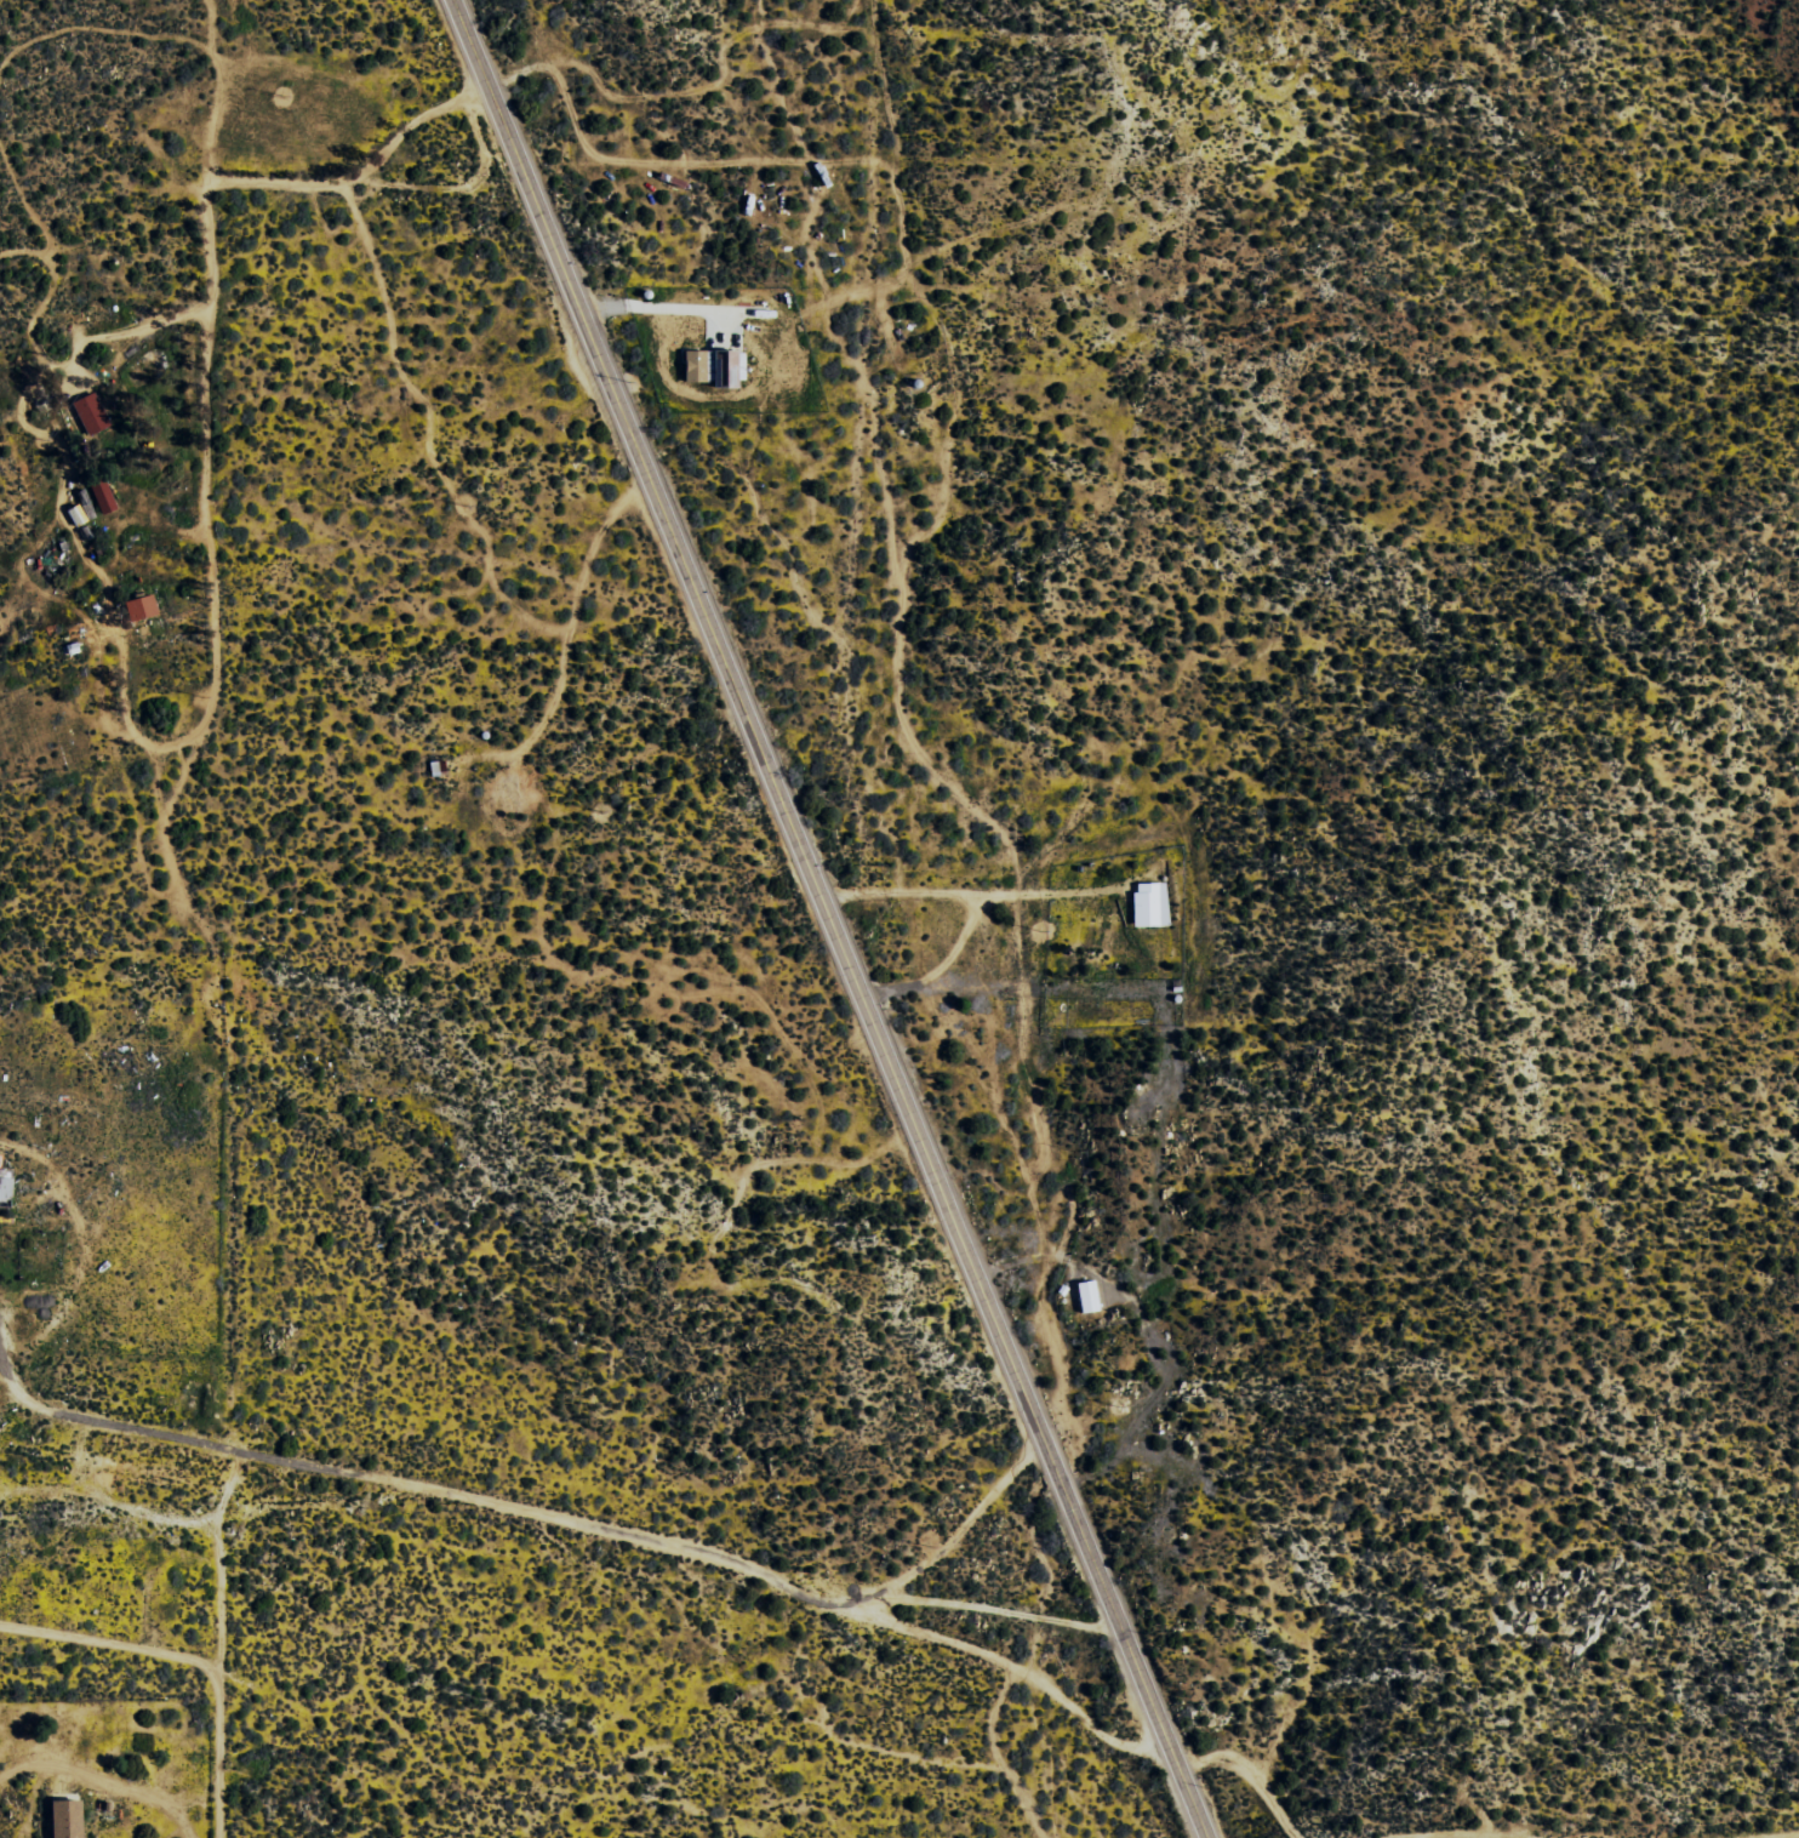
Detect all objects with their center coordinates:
road: (209, 355)
building: (92, 413)
building: (142, 606)
building: (1152, 903)
road: (835, 915)
building: (6, 1191)
road: (238, 1239)
building: (1090, 1295)
road: (571, 1525)
road: (115, 1703)
road: (918, 1726)
building: (68, 1819)

